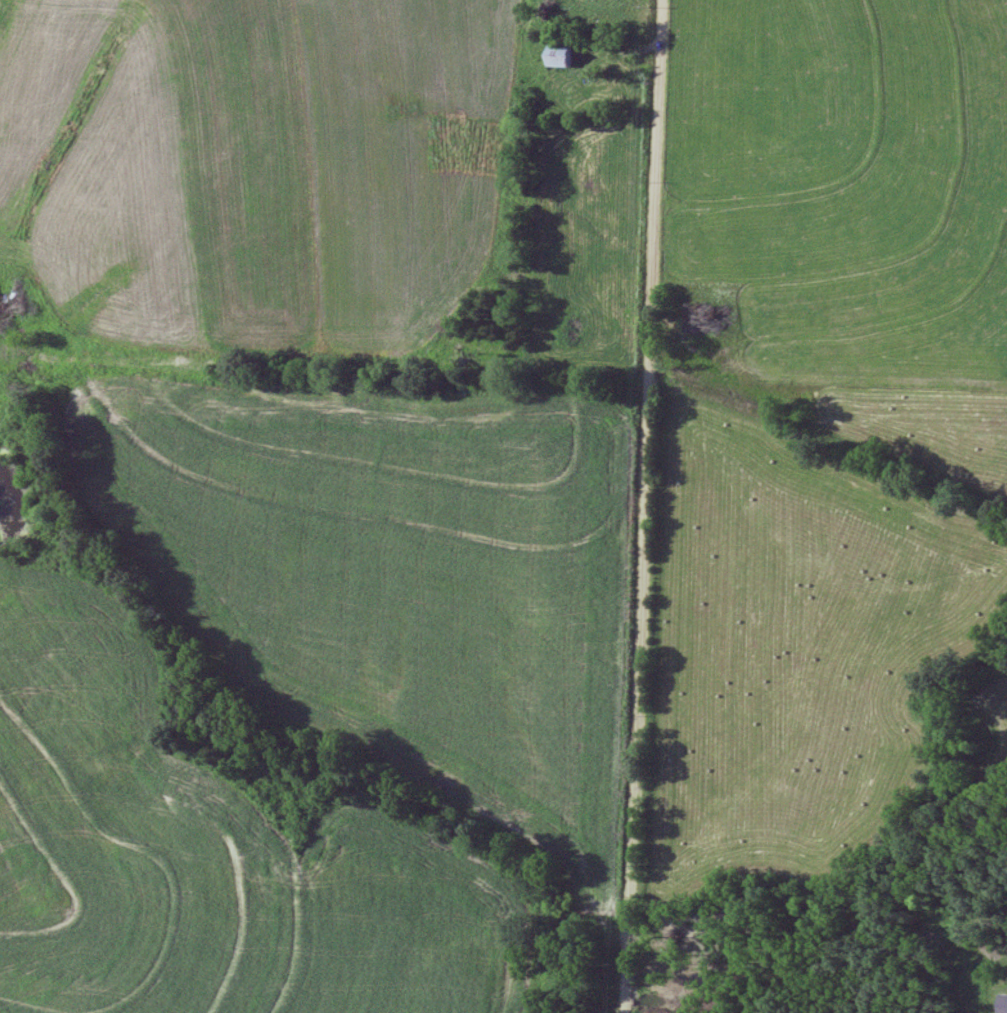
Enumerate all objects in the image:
building: (563, 57)
road: (641, 506)
building: (1005, 1004)

